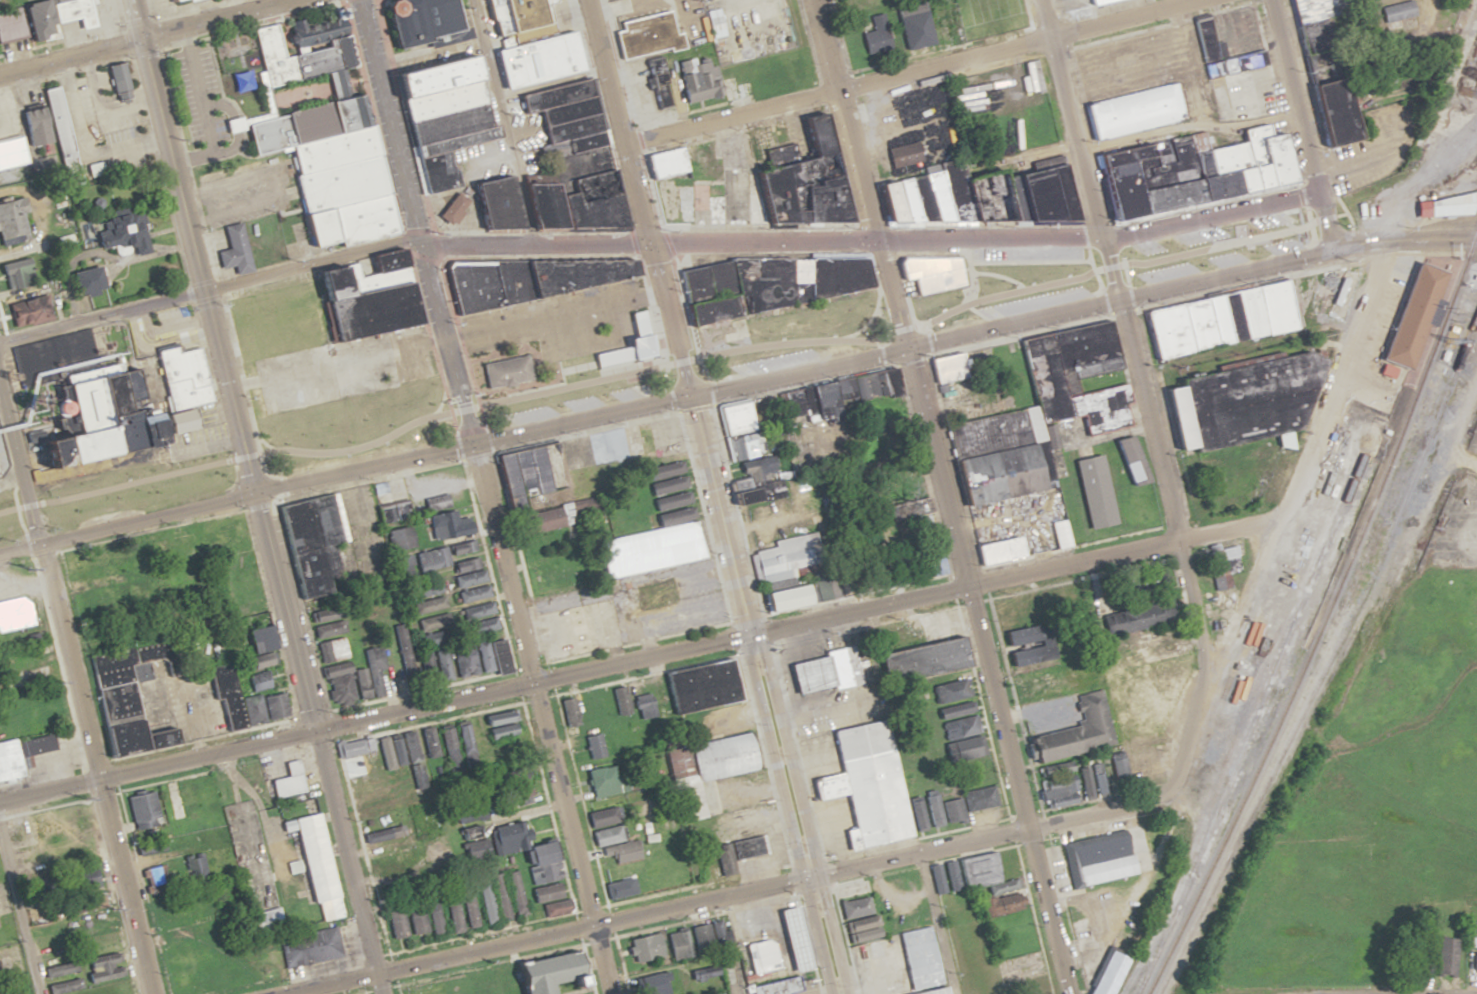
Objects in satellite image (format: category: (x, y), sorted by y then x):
building: (842, 0)
road: (1192, 0)
building: (175, 1)
building: (1094, 2)
parking lot: (1067, 5)
parking lot: (1111, 6)
road: (626, 8)
parking lot: (639, 12)
road: (1030, 13)
parking lot: (990, 16)
building: (1397, 16)
building: (50, 17)
building: (517, 18)
road: (685, 19)
building: (414, 20)
parking lot: (699, 20)
road: (1167, 23)
building: (941, 24)
parking lot: (748, 28)
building: (912, 28)
parking lot: (1236, 29)
building: (0, 31)
road: (141, 35)
building: (1203, 35)
traffic signals: (139, 36)
building: (647, 36)
road: (842, 37)
building: (875, 38)
road: (942, 49)
road: (1119, 50)
road: (427, 52)
building: (537, 59)
parking lot: (1127, 63)
road: (1189, 65)
building: (1323, 66)
road: (911, 70)
road: (1126, 75)
building: (115, 77)
building: (698, 79)
building: (239, 81)
building: (658, 83)
building: (734, 90)
parking lot: (640, 97)
parking lot: (1253, 99)
building: (1134, 110)
building: (53, 115)
building: (564, 115)
road: (503, 121)
road: (1300, 122)
road: (1187, 125)
building: (21, 140)
building: (456, 142)
parking lot: (1375, 145)
building: (903, 154)
road: (1021, 156)
road: (1365, 159)
building: (661, 164)
building: (1187, 171)
road: (854, 174)
building: (801, 180)
building: (575, 194)
road: (639, 197)
building: (977, 197)
building: (322, 201)
road: (1206, 203)
building: (1450, 205)
building: (12, 218)
road: (410, 222)
parking lot: (1205, 233)
building: (123, 234)
road: (1402, 239)
traffic signals: (872, 241)
road: (1096, 241)
road: (643, 242)
traffic signals: (651, 242)
traffic signals: (416, 244)
traffic signals: (1329, 245)
road: (192, 246)
building: (234, 250)
road: (1306, 250)
parking lot: (1211, 253)
parking lot: (1019, 267)
building: (930, 273)
building: (9, 278)
building: (525, 279)
building: (84, 281)
building: (762, 285)
road: (207, 289)
parking lot: (1006, 301)
building: (29, 310)
building: (1410, 315)
road: (553, 318)
building: (1222, 319)
parking lot: (567, 326)
parking lot: (786, 326)
road: (986, 326)
road: (1127, 331)
road: (593, 347)
traffic signals: (900, 348)
parking lot: (793, 354)
road: (673, 359)
building: (945, 369)
building: (503, 373)
building: (866, 384)
building: (117, 394)
traffic signals: (690, 395)
building: (807, 401)
parking lot: (579, 402)
building: (1240, 402)
building: (1040, 410)
traffic signals: (467, 445)
building: (743, 445)
building: (1130, 460)
road: (344, 472)
building: (752, 482)
building: (1092, 491)
traffic signals: (255, 493)
building: (434, 502)
road: (717, 515)
building: (542, 519)
building: (446, 525)
building: (657, 529)
building: (1058, 533)
building: (399, 538)
building: (311, 543)
building: (461, 547)
building: (996, 550)
building: (430, 558)
building: (929, 560)
building: (82, 561)
building: (1222, 562)
building: (402, 566)
building: (467, 571)
building: (787, 572)
road: (1012, 573)
building: (555, 575)
road: (25, 585)
building: (472, 593)
building: (425, 596)
building: (15, 613)
building: (1135, 616)
building: (479, 617)
railway: (1321, 617)
building: (432, 621)
building: (327, 624)
building: (575, 628)
building: (256, 632)
building: (1023, 644)
railway: (1299, 647)
building: (330, 649)
building: (492, 656)
building: (463, 660)
building: (259, 661)
railway: (1329, 661)
building: (441, 664)
building: (871, 664)
building: (415, 668)
road: (982, 671)
road: (1202, 676)
building: (355, 680)
building: (256, 682)
building: (698, 685)
road: (75, 686)
building: (618, 700)
building: (128, 701)
building: (642, 705)
building: (264, 707)
building: (567, 711)
road: (372, 718)
road: (537, 719)
building: (955, 720)
building: (500, 727)
railway: (1249, 728)
building: (1074, 732)
building: (469, 736)
building: (426, 742)
road: (318, 743)
building: (446, 745)
building: (593, 745)
building: (396, 750)
building: (21, 754)
building: (700, 768)
building: (603, 780)
building: (286, 781)
building: (1090, 782)
building: (863, 787)
building: (367, 789)
building: (1056, 794)
building: (519, 797)
building: (182, 802)
building: (966, 802)
building: (141, 806)
building: (924, 812)
road: (795, 813)
road: (783, 814)
building: (603, 816)
building: (422, 825)
building: (466, 827)
building: (608, 835)
building: (472, 850)
building: (523, 851)
building: (734, 853)
building: (609, 855)
building: (1098, 860)
building: (314, 865)
building: (700, 866)
building: (184, 871)
building: (982, 873)
building: (949, 875)
building: (84, 878)
building: (617, 888)
building: (513, 892)
building: (543, 892)
building: (496, 895)
building: (89, 903)
building: (1000, 903)
building: (555, 908)
building: (458, 911)
road: (18, 915)
building: (431, 916)
building: (414, 918)
building: (855, 918)
building: (264, 921)
building: (393, 923)
road: (932, 923)
building: (1471, 926)
road: (546, 934)
building: (706, 936)
building: (676, 945)
building: (644, 946)
building: (764, 946)
building: (308, 947)
building: (918, 957)
building: (1446, 957)
building: (1474, 961)
building: (1106, 974)
building: (648, 984)
building: (931, 991)
building: (543, 992)

